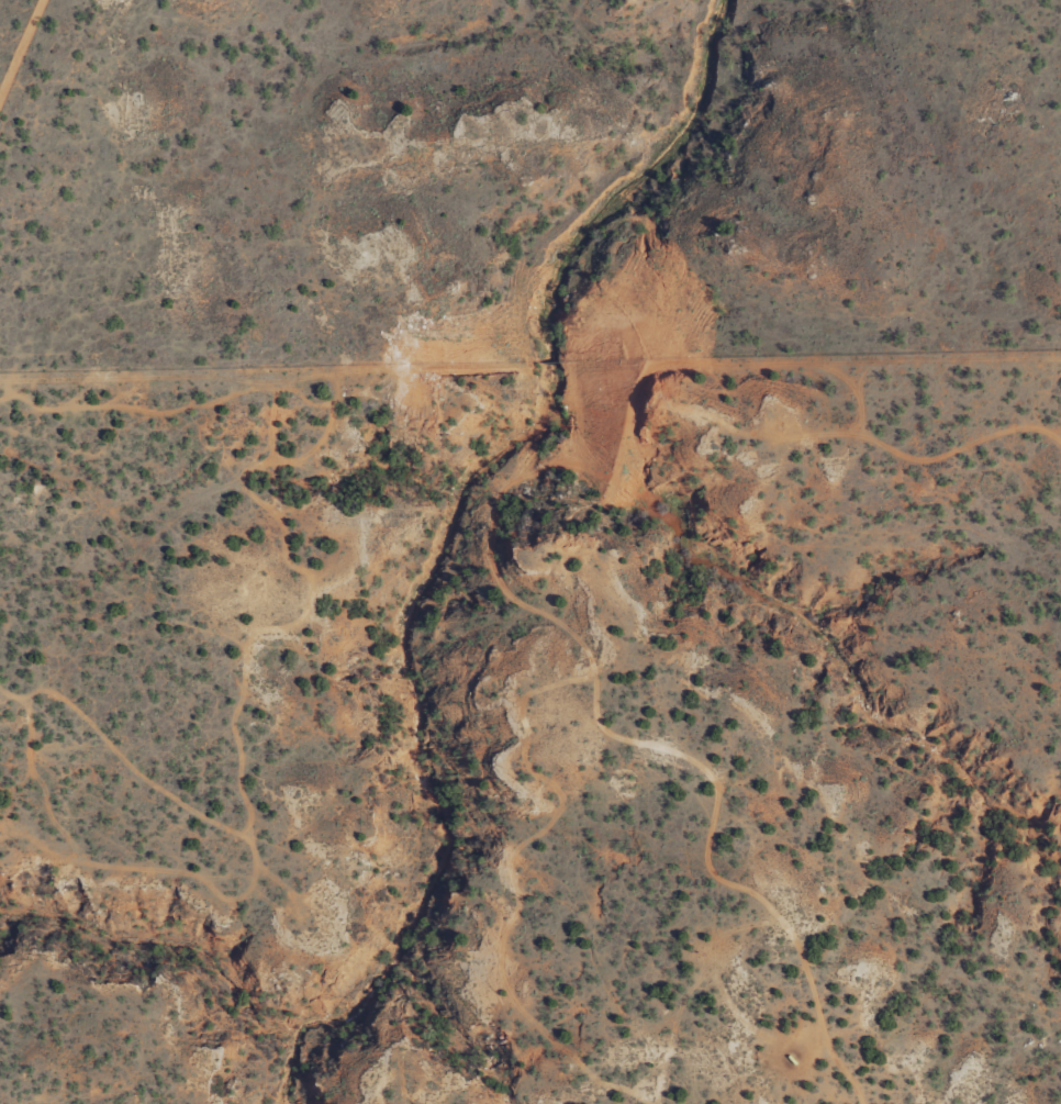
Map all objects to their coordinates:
road: (21, 42)

